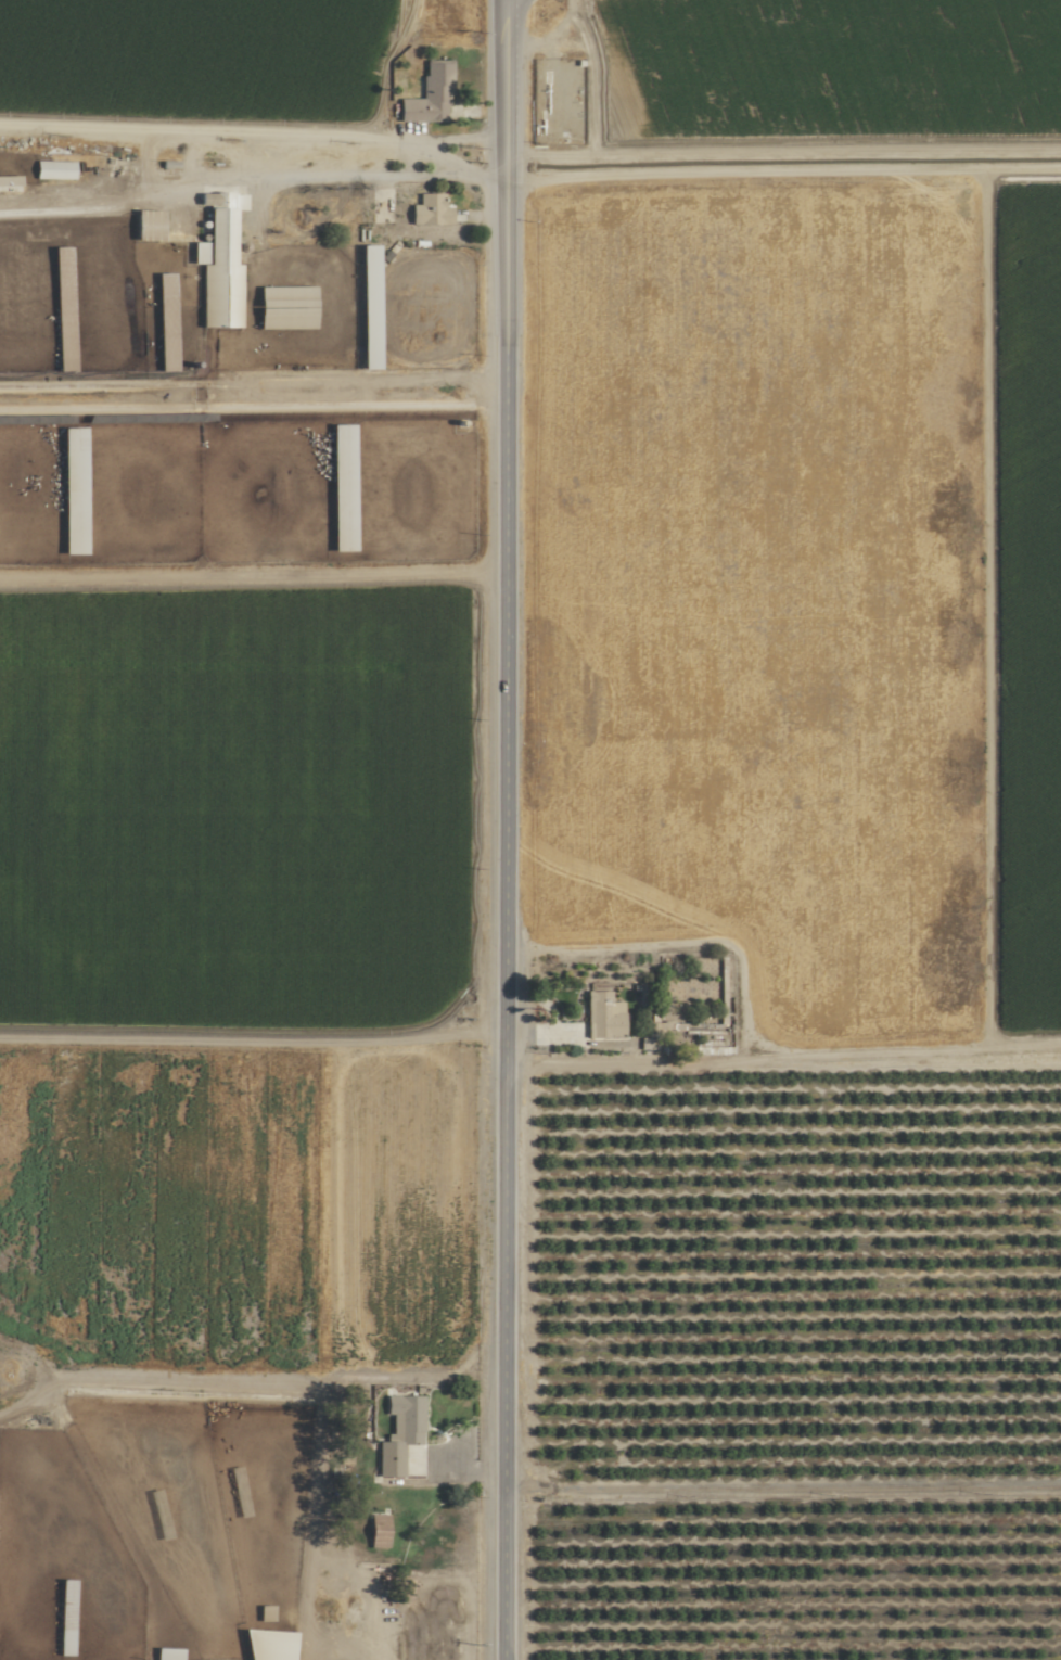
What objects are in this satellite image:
building: (426, 94)
building: (51, 169)
building: (0, 180)
road: (369, 181)
road: (126, 205)
building: (427, 209)
building: (216, 268)
building: (162, 291)
building: (282, 307)
road: (977, 369)
road: (497, 829)
road: (679, 940)
building: (601, 1014)
road: (780, 1056)
building: (397, 1432)
road: (778, 1486)
building: (374, 1530)
building: (62, 1640)
building: (266, 1645)

